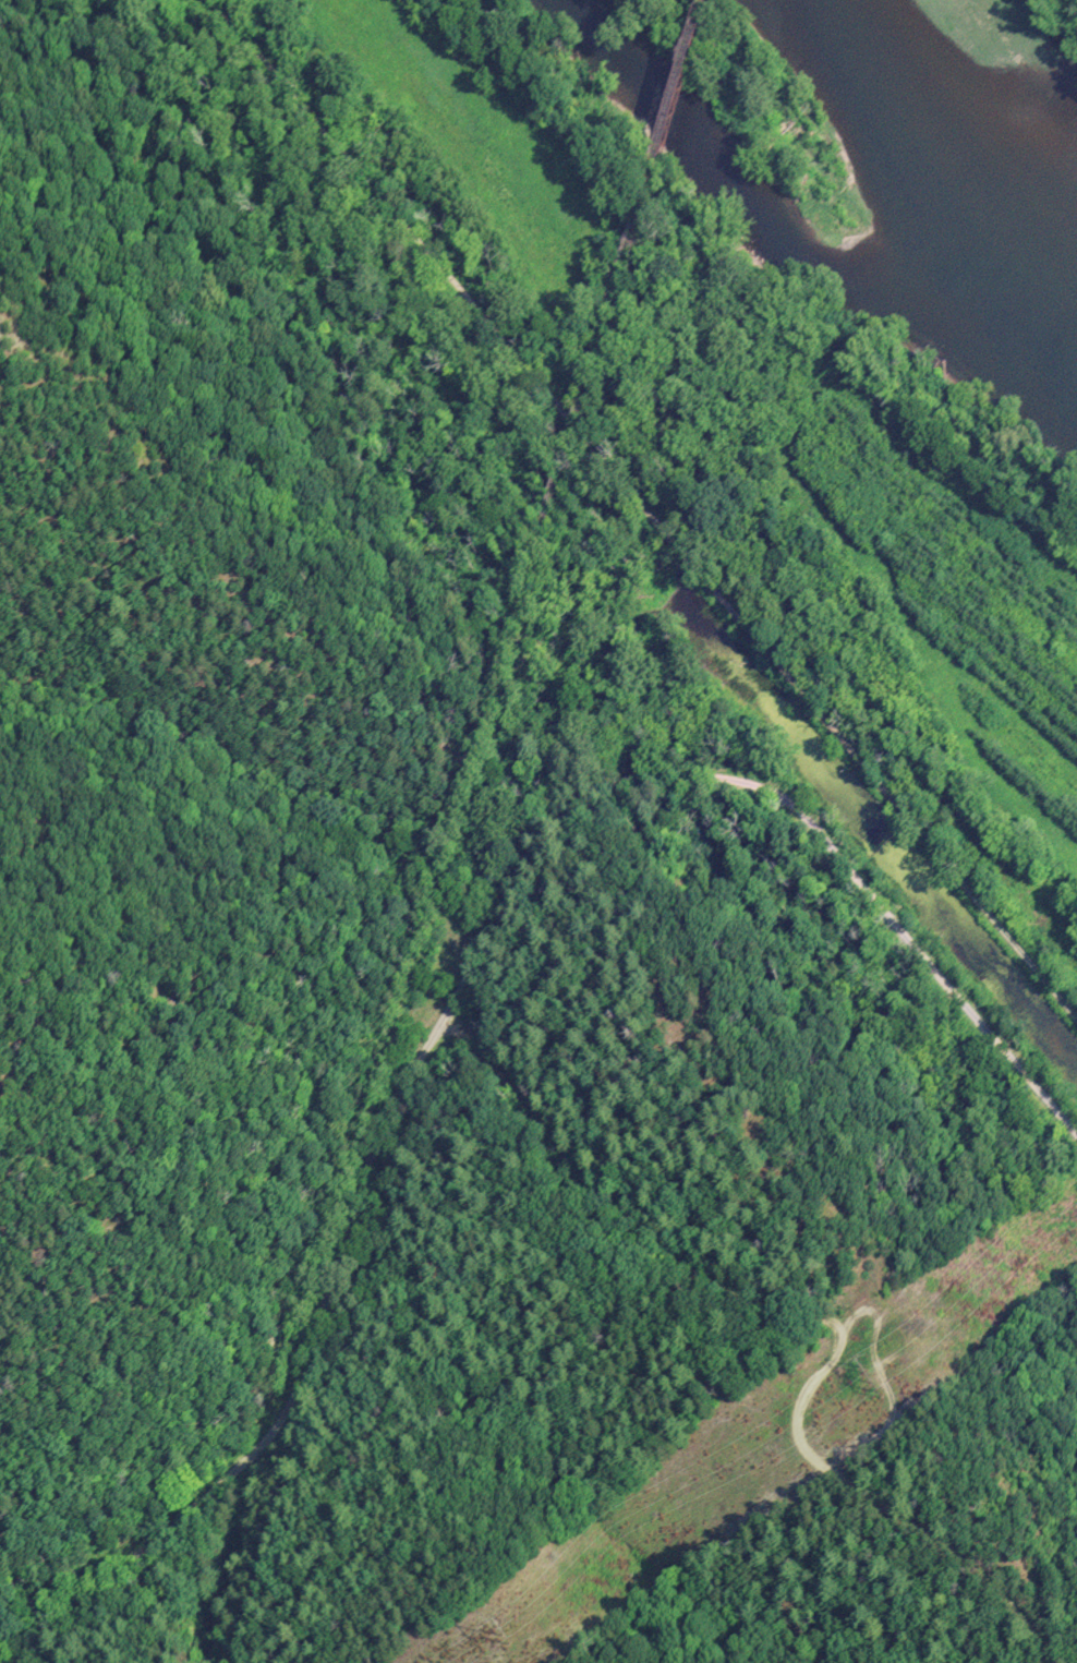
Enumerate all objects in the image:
river: (970, 142)
road: (644, 509)
road: (476, 956)
power tower: (869, 1381)
power tower: (505, 1640)

